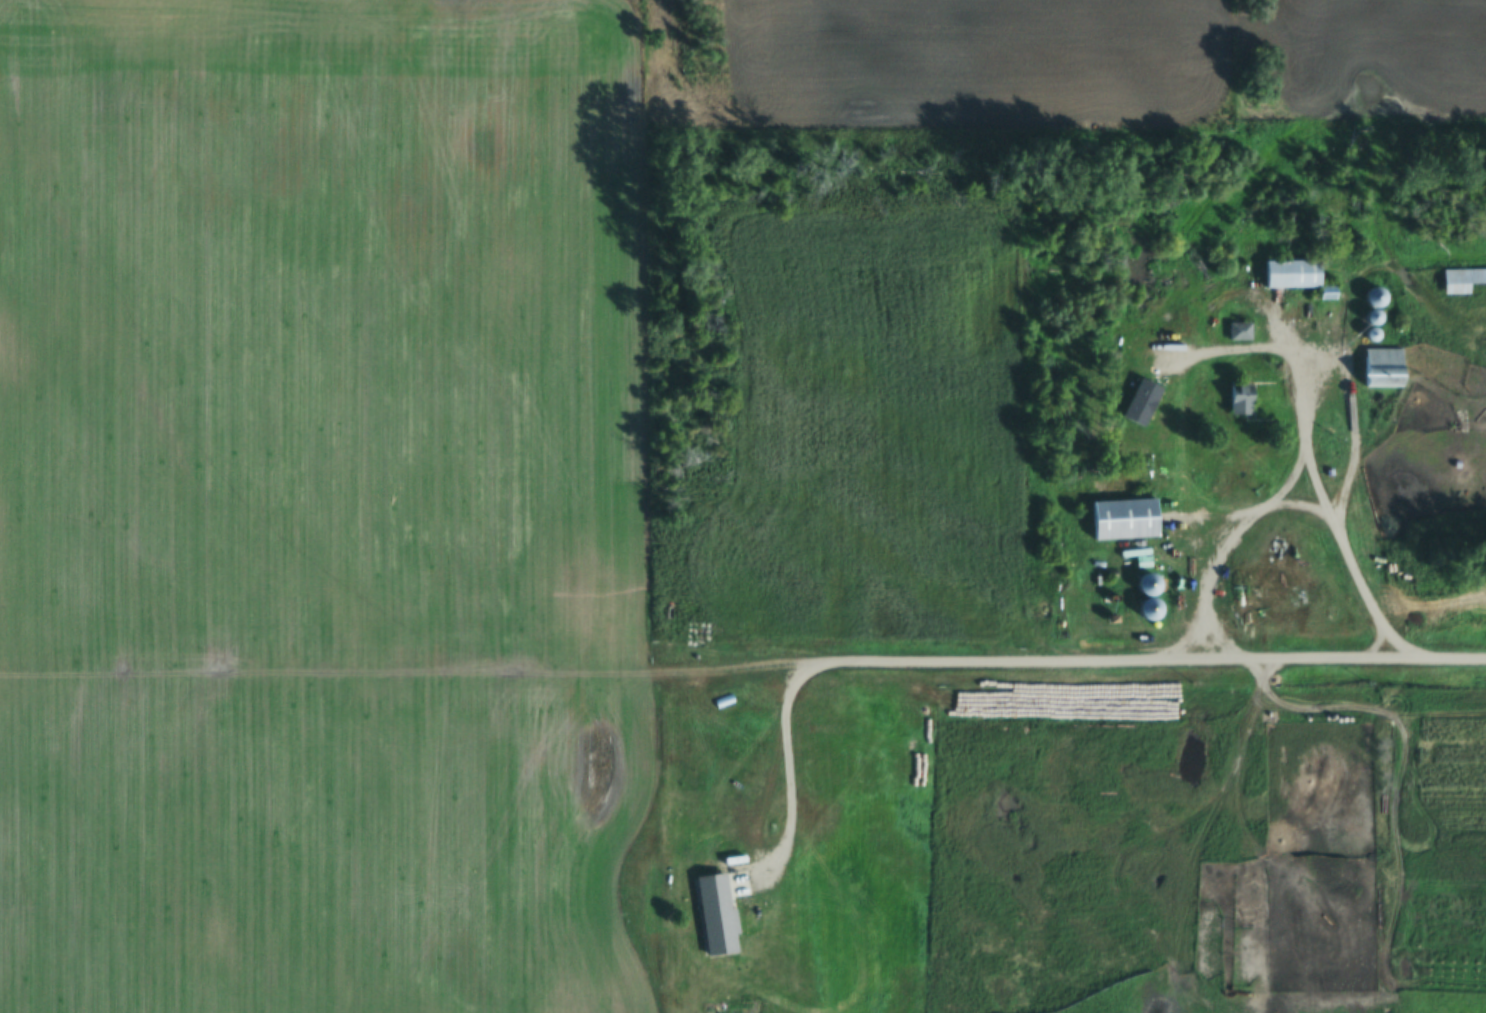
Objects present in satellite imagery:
building: (1294, 282)
building: (1462, 289)
building: (1328, 302)
building: (1377, 305)
silo: (1377, 305)
building: (1375, 325)
silo: (1375, 325)
building: (1240, 340)
building: (1374, 342)
silo: (1374, 342)
road: (1255, 350)
building: (1384, 376)
building: (1241, 407)
building: (1214, 412)
building: (1261, 425)
road: (1303, 431)
road: (1296, 479)
road: (1278, 507)
building: (1126, 527)
building: (1112, 582)
building: (1152, 592)
silo: (1152, 592)
building: (1115, 607)
building: (1152, 617)
silo: (1152, 617)
building: (1114, 626)
road: (407, 666)
road: (1150, 672)
road: (787, 781)
building: (717, 922)

